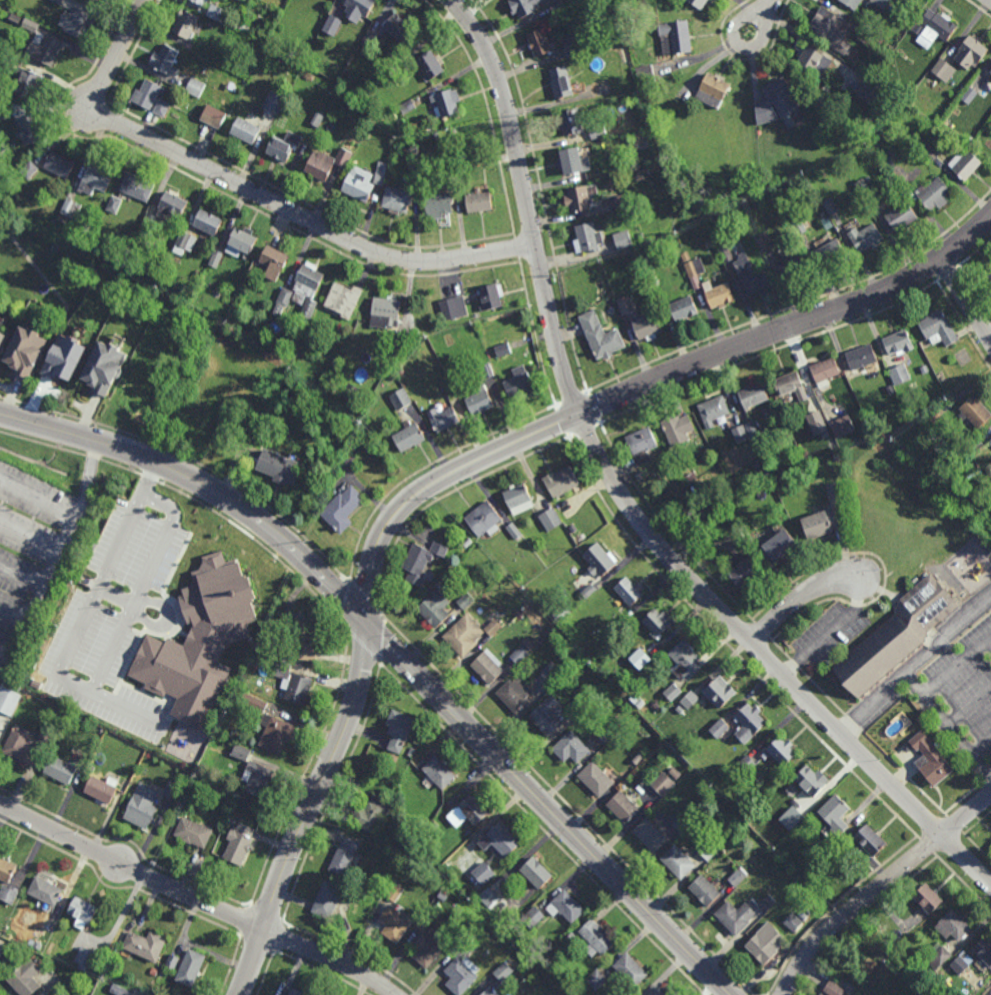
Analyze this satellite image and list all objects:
building: (58, 1)
building: (97, 1)
building: (201, 2)
building: (699, 3)
building: (853, 3)
building: (556, 5)
building: (879, 5)
building: (524, 7)
building: (360, 9)
road: (764, 9)
building: (219, 13)
road: (743, 17)
building: (77, 22)
building: (186, 24)
building: (211, 25)
building: (334, 25)
building: (398, 26)
building: (244, 27)
building: (938, 28)
building: (834, 29)
building: (918, 29)
building: (863, 36)
building: (675, 38)
building: (371, 40)
building: (41, 41)
building: (586, 41)
building: (278, 42)
building: (541, 43)
building: (571, 45)
building: (972, 52)
building: (165, 60)
building: (813, 61)
building: (430, 65)
building: (945, 70)
building: (990, 72)
building: (645, 75)
building: (561, 82)
building: (29, 84)
building: (195, 88)
building: (713, 89)
building: (873, 94)
building: (969, 96)
building: (151, 98)
building: (772, 100)
building: (275, 102)
building: (446, 102)
building: (407, 107)
building: (4, 113)
building: (214, 116)
building: (318, 121)
building: (572, 122)
building: (31, 131)
building: (246, 131)
building: (597, 131)
building: (436, 136)
building: (631, 141)
building: (284, 148)
building: (929, 153)
building: (462, 154)
building: (890, 159)
building: (571, 161)
building: (59, 165)
building: (327, 165)
building: (966, 165)
building: (415, 167)
building: (29, 169)
building: (380, 173)
building: (639, 177)
building: (96, 179)
building: (361, 185)
building: (864, 187)
building: (136, 188)
road: (255, 193)
building: (935, 195)
building: (578, 199)
building: (396, 200)
building: (623, 201)
building: (479, 202)
building: (114, 204)
building: (438, 205)
building: (171, 206)
building: (831, 207)
building: (70, 209)
building: (901, 217)
building: (150, 223)
building: (207, 224)
building: (799, 226)
building: (641, 235)
building: (588, 238)
building: (866, 238)
building: (622, 239)
building: (187, 242)
building: (708, 242)
building: (242, 243)
building: (765, 243)
building: (831, 254)
building: (685, 256)
building: (216, 260)
building: (275, 264)
building: (793, 266)
building: (694, 267)
building: (745, 268)
building: (253, 274)
building: (990, 276)
building: (655, 281)
building: (302, 288)
building: (491, 295)
building: (720, 297)
road: (965, 300)
building: (343, 301)
building: (626, 304)
building: (453, 308)
building: (684, 309)
building: (310, 310)
building: (386, 312)
building: (2, 323)
building: (647, 327)
building: (937, 328)
building: (601, 336)
building: (403, 339)
building: (4, 342)
building: (313, 343)
building: (899, 343)
building: (28, 349)
building: (502, 351)
building: (66, 356)
building: (861, 357)
building: (335, 363)
building: (102, 369)
building: (400, 369)
building: (825, 369)
building: (924, 369)
building: (484, 373)
building: (900, 373)
building: (452, 378)
building: (519, 384)
building: (791, 385)
building: (351, 392)
building: (753, 395)
building: (400, 399)
building: (478, 399)
building: (713, 410)
building: (975, 411)
building: (934, 417)
building: (443, 418)
building: (818, 423)
building: (843, 425)
building: (678, 429)
building: (752, 431)
building: (740, 434)
building: (409, 436)
building: (990, 441)
building: (642, 444)
building: (976, 444)
building: (838, 456)
building: (282, 465)
building: (756, 465)
road: (460, 469)
road: (88, 480)
building: (561, 482)
building: (837, 490)
building: (518, 498)
road: (623, 498)
road: (38, 500)
building: (343, 508)
building: (714, 509)
building: (550, 518)
building: (484, 519)
building: (821, 522)
building: (514, 531)
road: (29, 538)
building: (780, 542)
building: (468, 543)
building: (600, 559)
building: (421, 561)
building: (743, 570)
road: (21, 577)
road: (40, 590)
building: (587, 592)
building: (628, 592)
road: (114, 596)
road: (802, 598)
building: (466, 601)
building: (434, 609)
road: (13, 613)
building: (562, 613)
building: (659, 622)
building: (302, 626)
road: (830, 632)
building: (468, 634)
building: (895, 638)
building: (199, 640)
building: (308, 652)
road: (397, 654)
building: (519, 654)
building: (639, 659)
building: (686, 660)
road: (956, 663)
road: (916, 666)
building: (487, 668)
building: (551, 673)
building: (621, 680)
road: (73, 682)
building: (292, 682)
building: (720, 692)
building: (673, 693)
building: (515, 695)
building: (8, 700)
building: (690, 700)
building: (252, 702)
building: (639, 703)
road: (968, 705)
building: (579, 706)
building: (548, 716)
building: (922, 721)
building: (749, 723)
road: (947, 727)
building: (92, 728)
building: (607, 729)
building: (719, 729)
building: (399, 730)
building: (275, 733)
building: (28, 741)
road: (981, 746)
building: (572, 748)
building: (782, 751)
building: (411, 752)
building: (240, 753)
building: (638, 759)
building: (931, 759)
building: (748, 764)
building: (60, 770)
building: (439, 772)
building: (675, 773)
building: (257, 778)
building: (597, 778)
building: (813, 782)
building: (662, 784)
building: (102, 789)
building: (172, 790)
building: (142, 806)
building: (623, 807)
building: (473, 810)
building: (369, 814)
building: (835, 817)
building: (792, 819)
building: (682, 823)
building: (192, 833)
building: (649, 836)
building: (412, 840)
building: (502, 841)
building: (871, 841)
building: (238, 843)
building: (707, 847)
building: (344, 856)
building: (678, 862)
building: (7, 870)
building: (483, 873)
building: (537, 873)
building: (737, 877)
road: (878, 887)
building: (705, 891)
building: (46, 892)
building: (395, 893)
building: (8, 894)
building: (488, 897)
road: (198, 899)
building: (328, 900)
building: (930, 901)
building: (767, 903)
building: (566, 907)
building: (83, 912)
building: (737, 916)
building: (532, 917)
building: (795, 921)
building: (394, 923)
building: (955, 926)
building: (470, 936)
building: (573, 939)
building: (597, 939)
building: (766, 944)
building: (145, 945)
building: (426, 949)
building: (461, 949)
building: (984, 955)
building: (85, 957)
building: (940, 959)
building: (172, 962)
building: (962, 963)
building: (191, 967)
building: (631, 970)
building: (155, 972)
building: (503, 972)
building: (461, 975)
building: (26, 978)
building: (596, 979)
building: (838, 988)
building: (125, 991)
building: (109, 992)
building: (297, 992)
building: (490, 992)
building: (659, 992)
building: (819, 993)
building: (139, 994)

